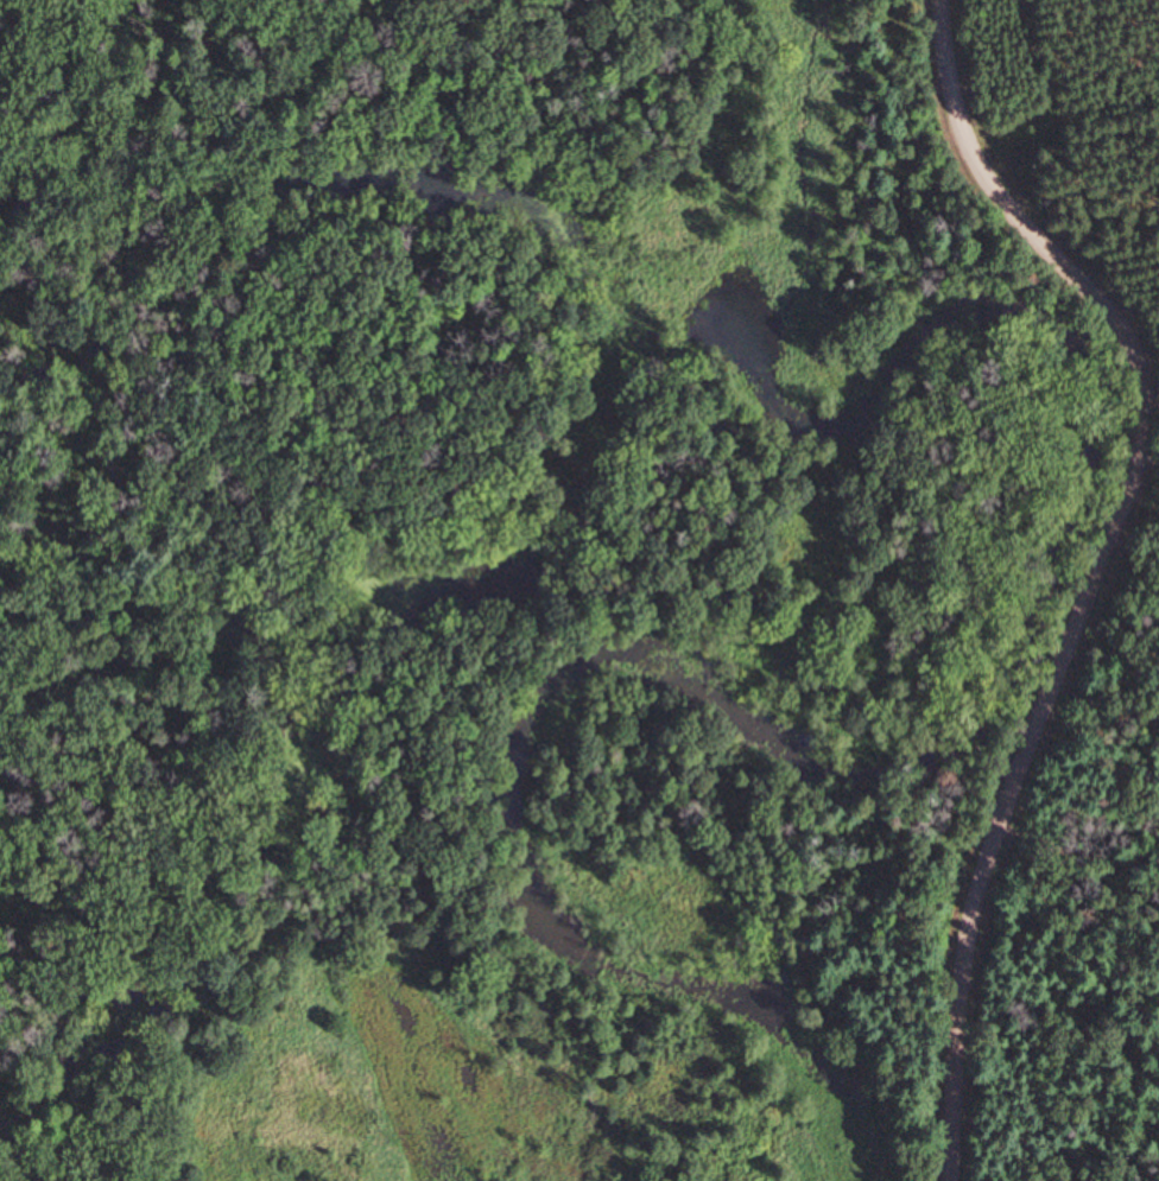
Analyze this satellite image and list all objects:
road: (1098, 565)

